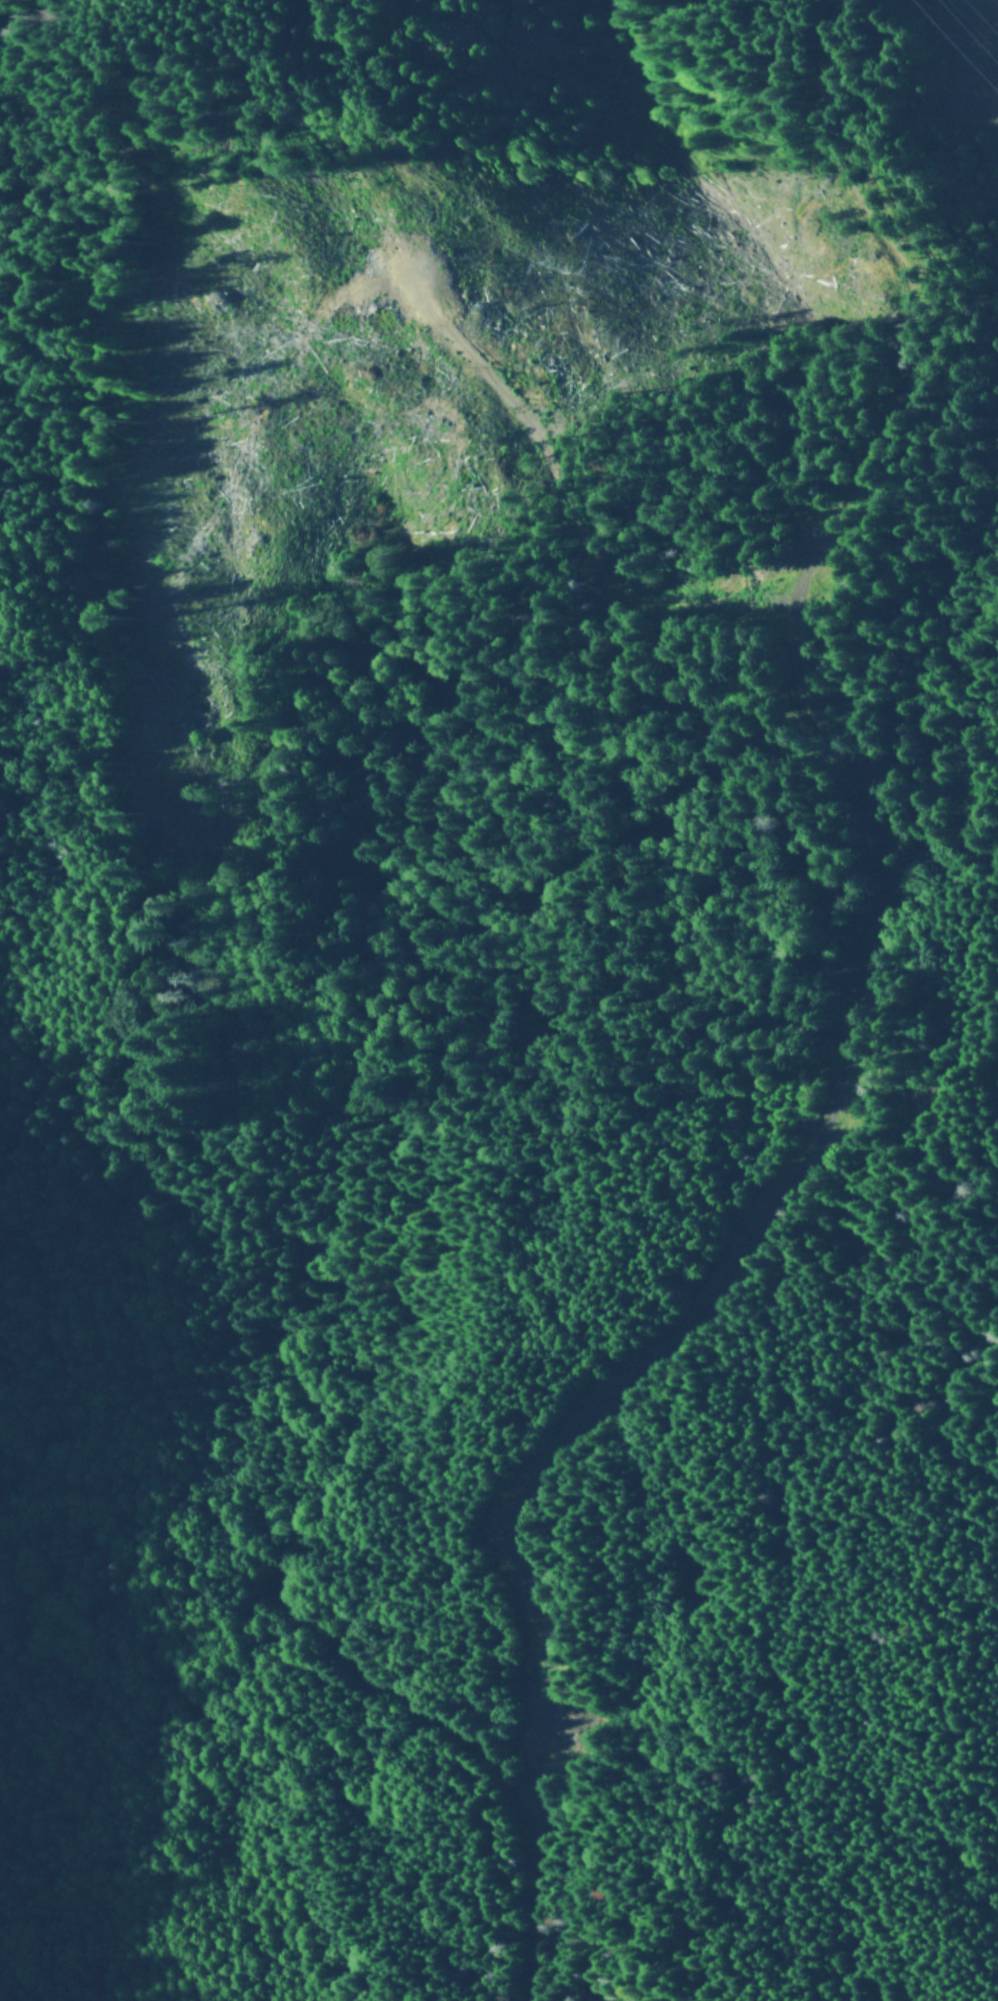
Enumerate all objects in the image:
road: (715, 1295)

